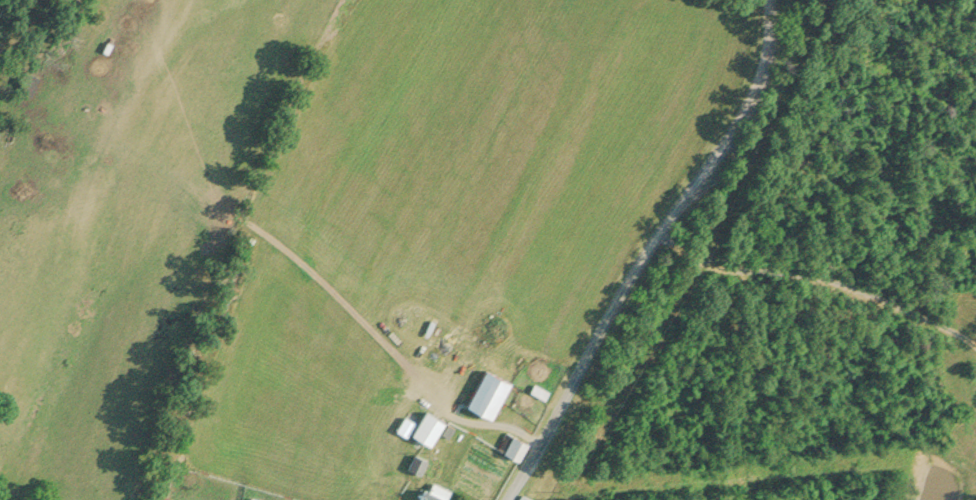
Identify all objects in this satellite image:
road: (652, 250)
road: (822, 276)
building: (973, 306)
building: (486, 394)
building: (423, 425)
building: (510, 445)
building: (431, 492)
building: (523, 496)

